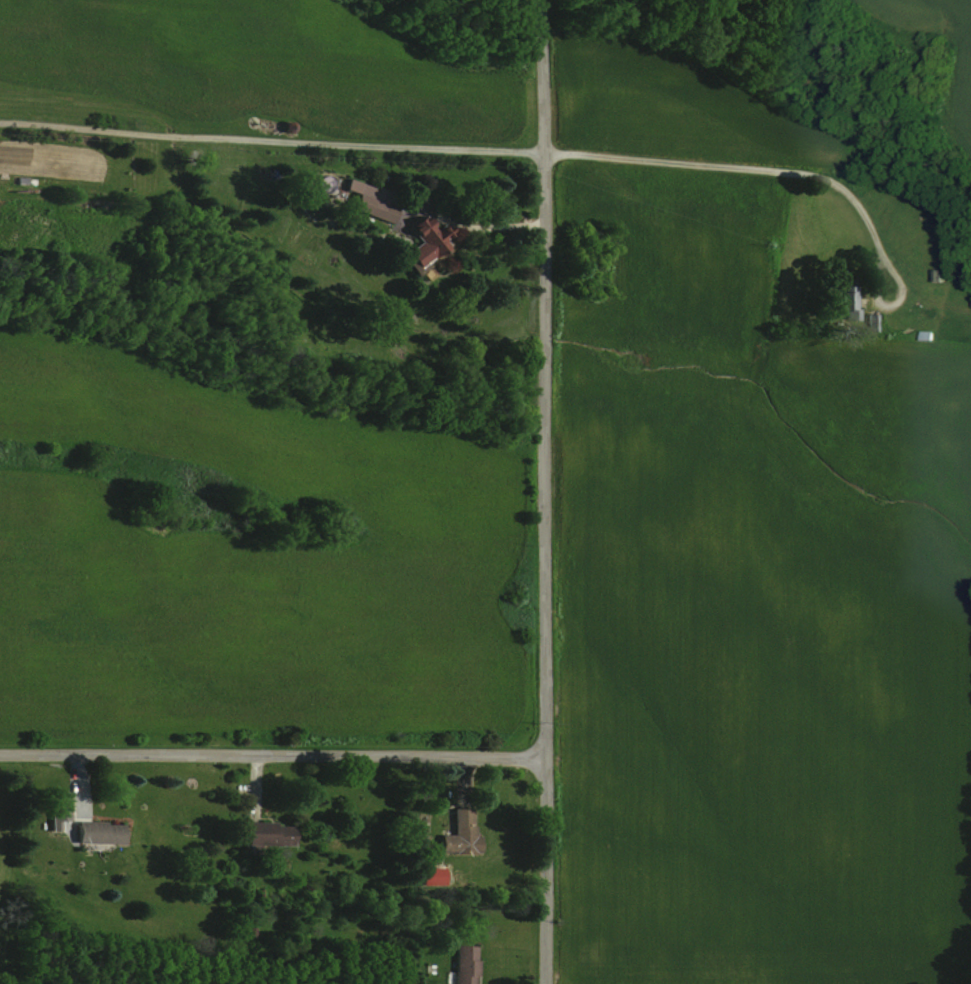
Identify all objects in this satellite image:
road: (519, 183)
building: (369, 201)
building: (426, 240)
building: (847, 302)
road: (543, 491)
road: (272, 754)
building: (58, 812)
building: (97, 833)
building: (266, 834)
building: (461, 835)
building: (431, 877)
building: (465, 965)

